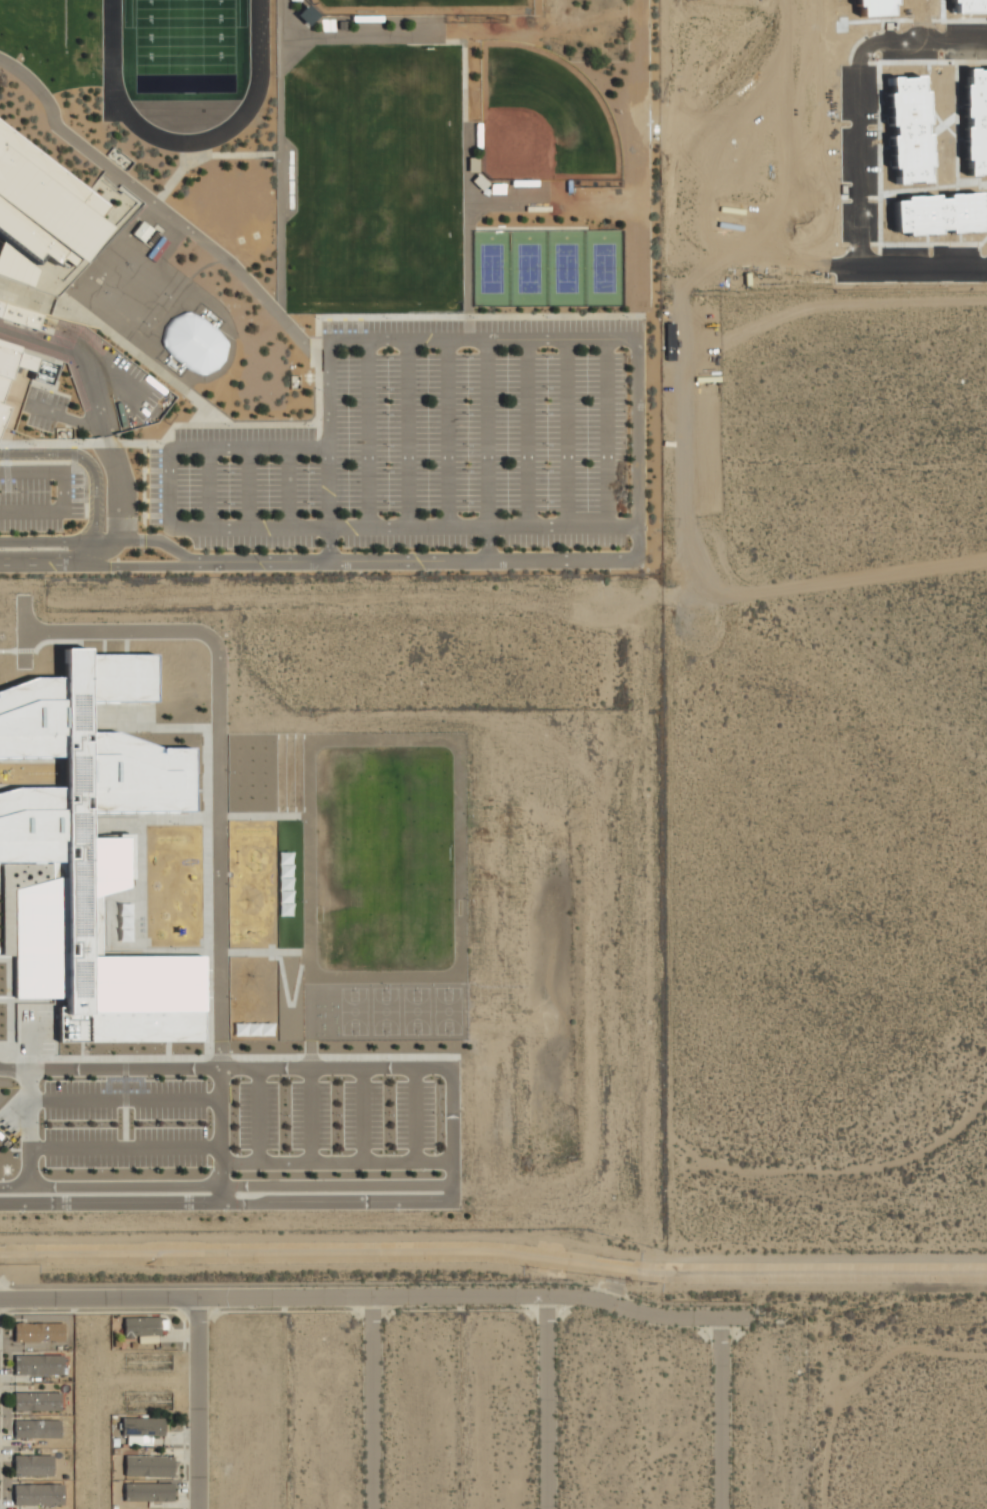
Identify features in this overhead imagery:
park: (418, 7)
park: (187, 46)
track: (110, 74)
park: (539, 118)
road: (862, 158)
park: (373, 180)
building: (46, 203)
road: (161, 207)
building: (141, 230)
park: (565, 267)
park: (602, 267)
park: (490, 268)
park: (528, 268)
park: (136, 294)
building: (20, 315)
building: (194, 342)
building: (2, 394)
parking lot: (44, 410)
road: (62, 417)
road: (565, 432)
road: (605, 432)
road: (525, 433)
road: (367, 434)
road: (407, 434)
road: (445, 434)
parking lot: (430, 445)
road: (109, 447)
road: (295, 448)
road: (485, 450)
road: (90, 468)
road: (207, 487)
road: (247, 487)
road: (286, 487)
road: (63, 493)
parking lot: (39, 497)
road: (328, 504)
road: (158, 541)
road: (57, 542)
road: (103, 552)
road: (416, 561)
road: (45, 562)
road: (144, 566)
building: (90, 851)
park: (383, 857)
building: (283, 883)
building: (122, 923)
park: (353, 1010)
park: (385, 1010)
park: (416, 1010)
park: (447, 1010)
road: (273, 1067)
road: (124, 1099)
road: (415, 1113)
road: (258, 1114)
road: (311, 1114)
parking lot: (335, 1114)
road: (362, 1114)
parking lot: (124, 1122)
road: (220, 1134)
road: (28, 1135)
road: (124, 1146)
road: (336, 1161)
road: (453, 1180)
road: (226, 1185)
road: (227, 1201)
road: (359, 1297)
building: (142, 1327)
building: (39, 1332)
building: (38, 1364)
building: (37, 1402)
road: (544, 1402)
road: (197, 1403)
road: (370, 1403)
road: (716, 1413)
building: (142, 1427)
building: (36, 1429)
building: (33, 1466)
building: (149, 1467)
building: (149, 1493)
building: (38, 1496)

